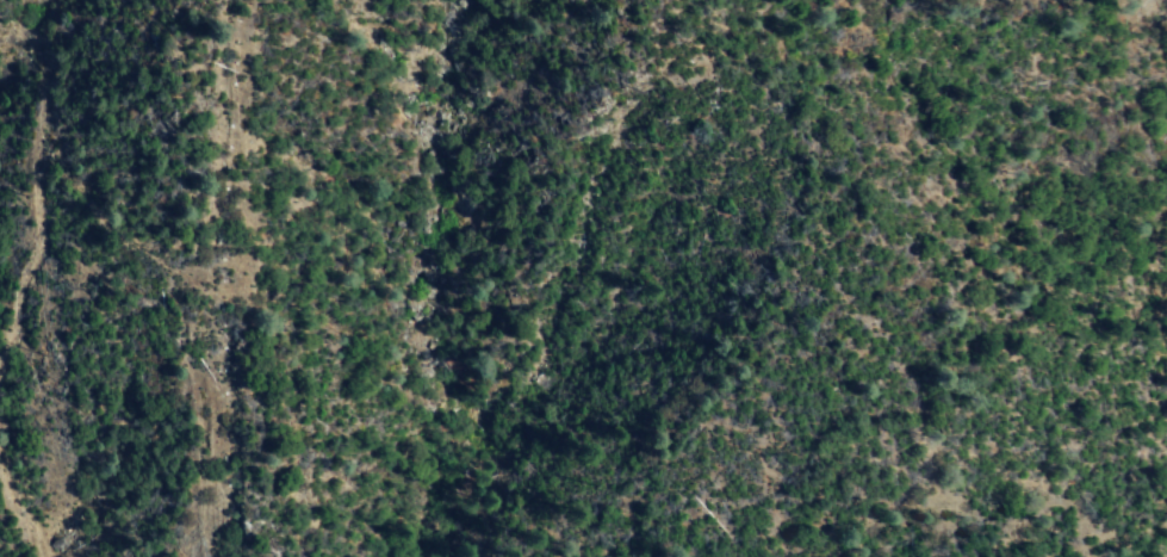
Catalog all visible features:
road: (230, 278)

